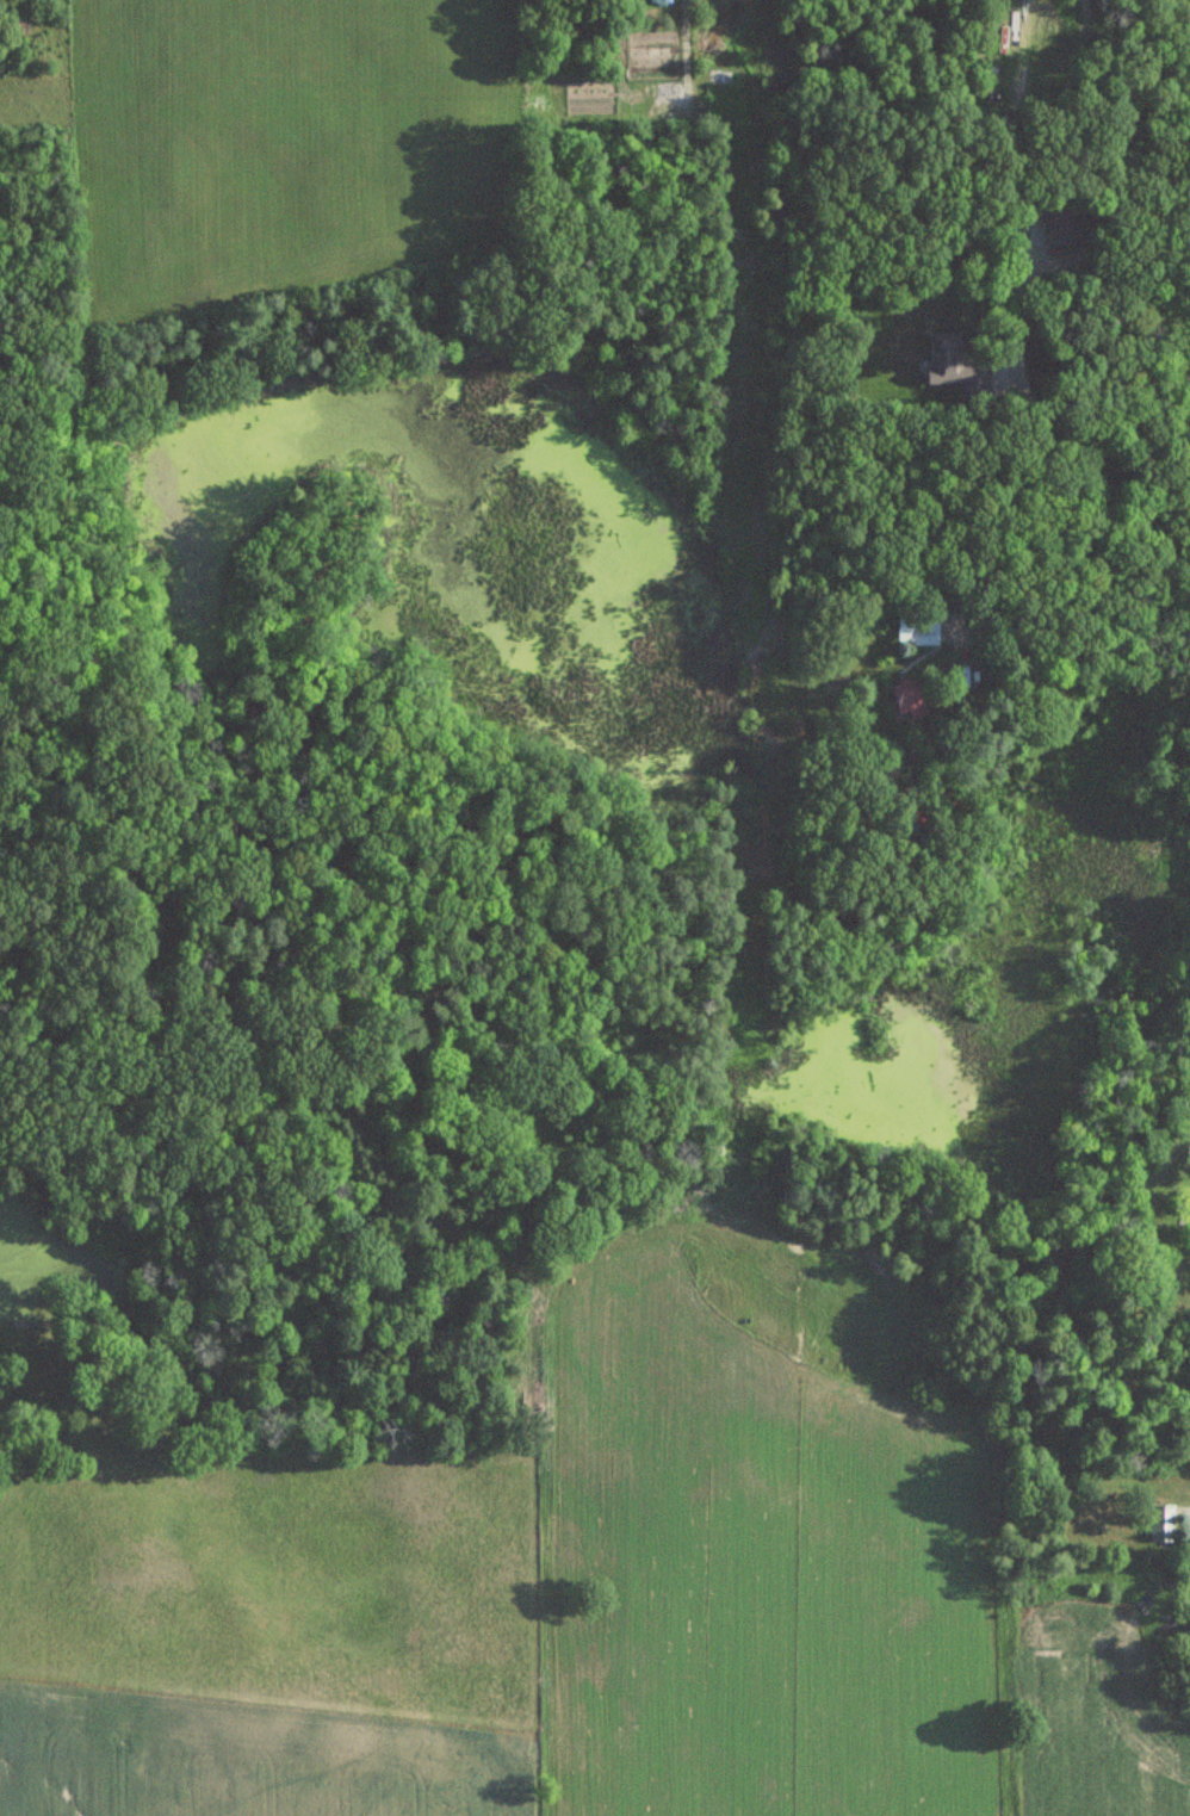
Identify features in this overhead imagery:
building: (1059, 223)
building: (949, 359)
building: (916, 628)
building: (909, 700)
building: (1163, 1227)
building: (1161, 1523)

